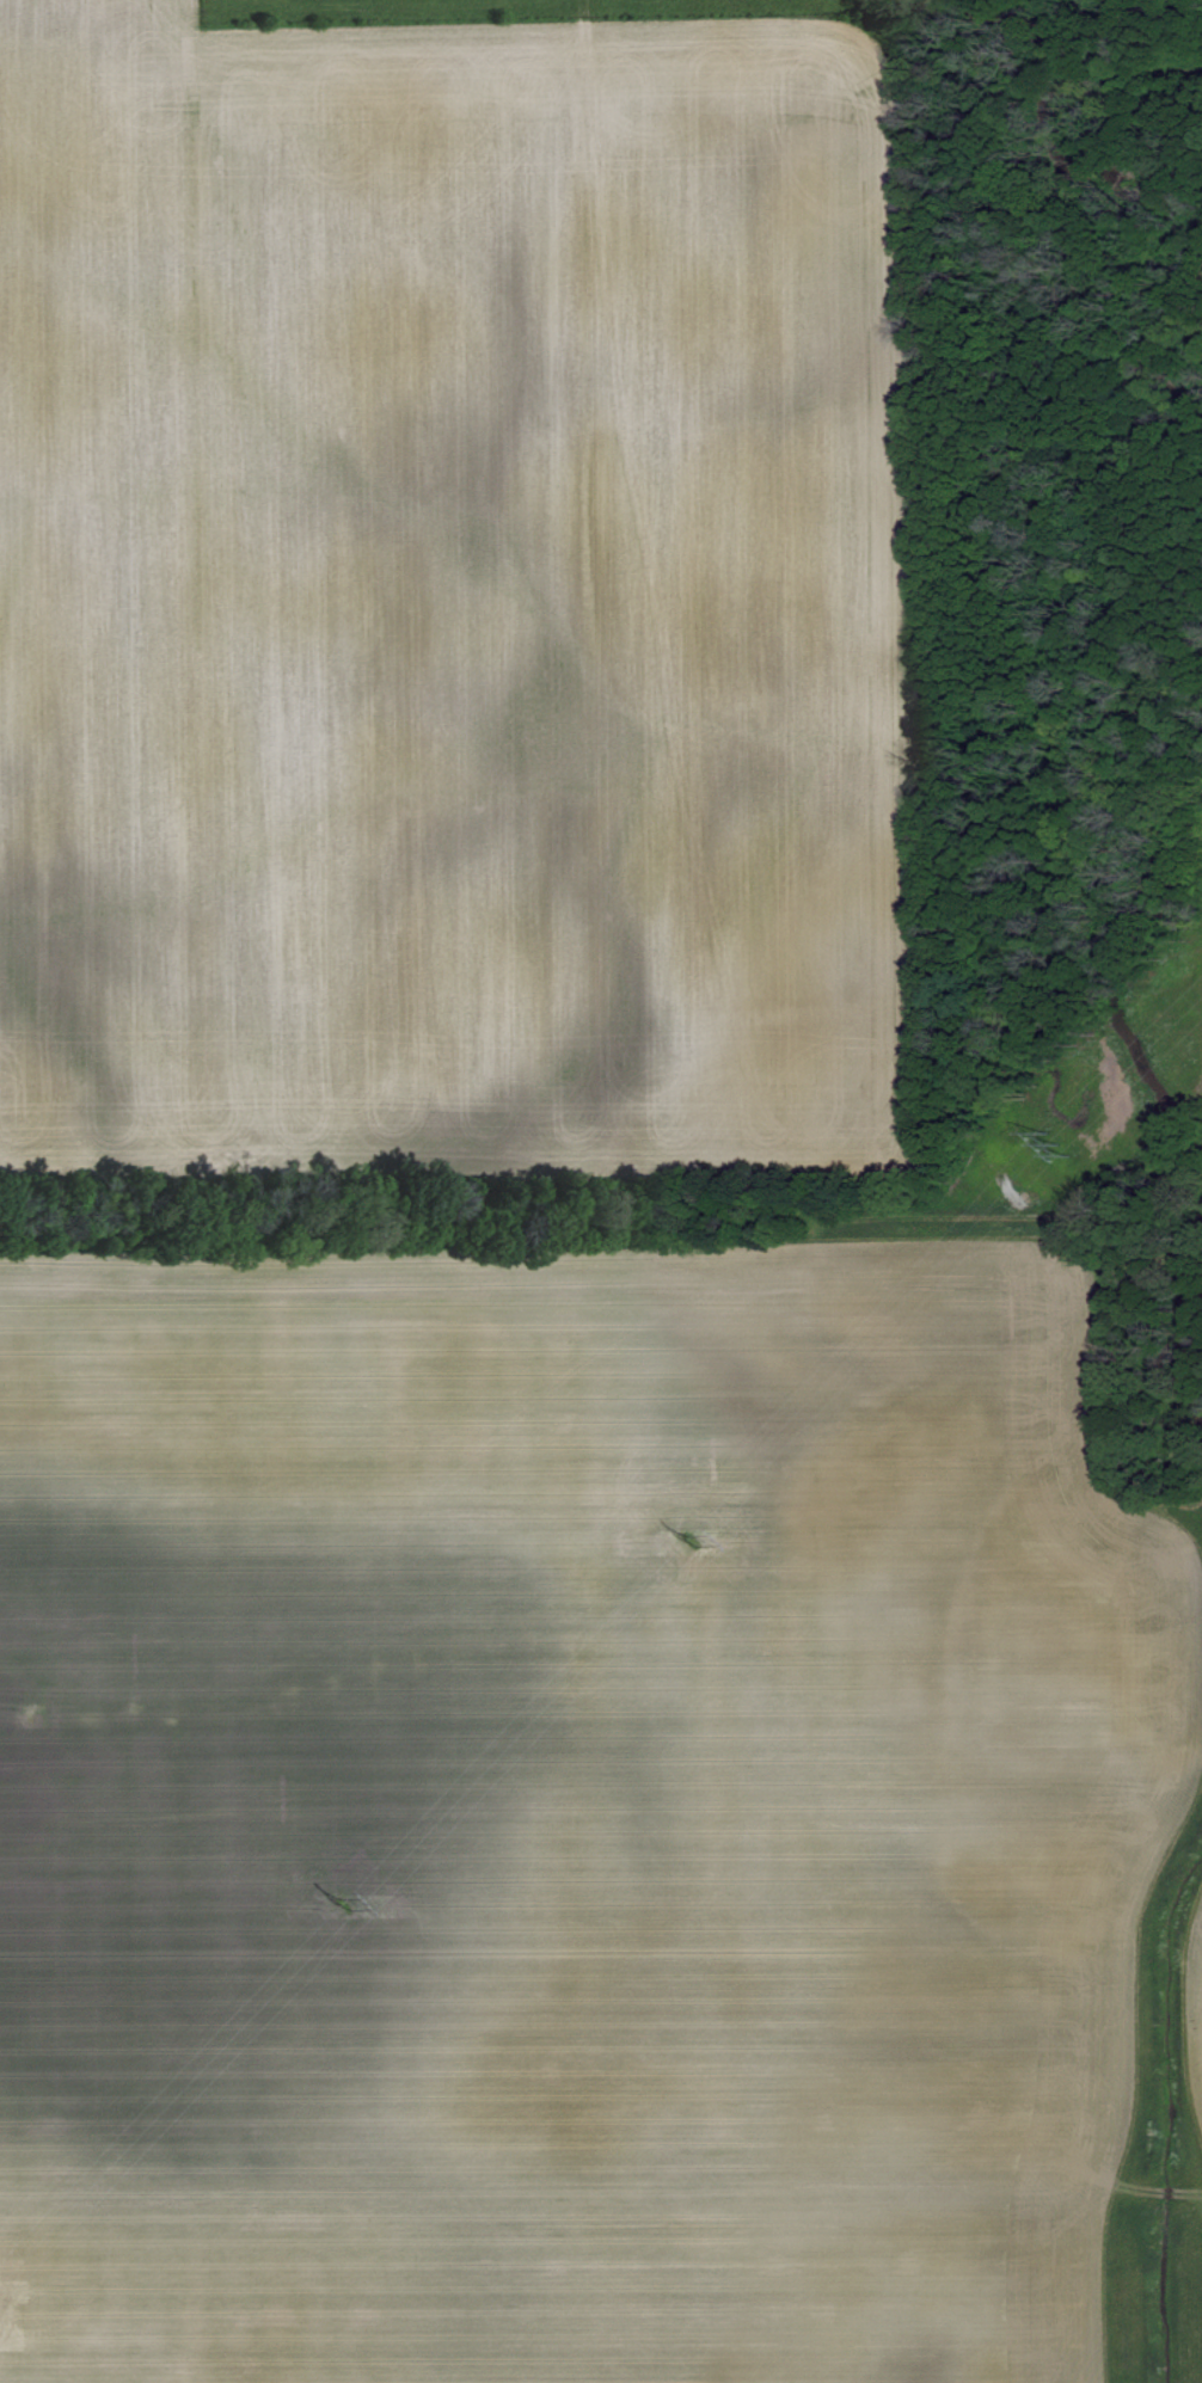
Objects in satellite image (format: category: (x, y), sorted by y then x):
power tower: (1061, 1142)
power tower: (689, 1540)
power tower: (342, 1905)

